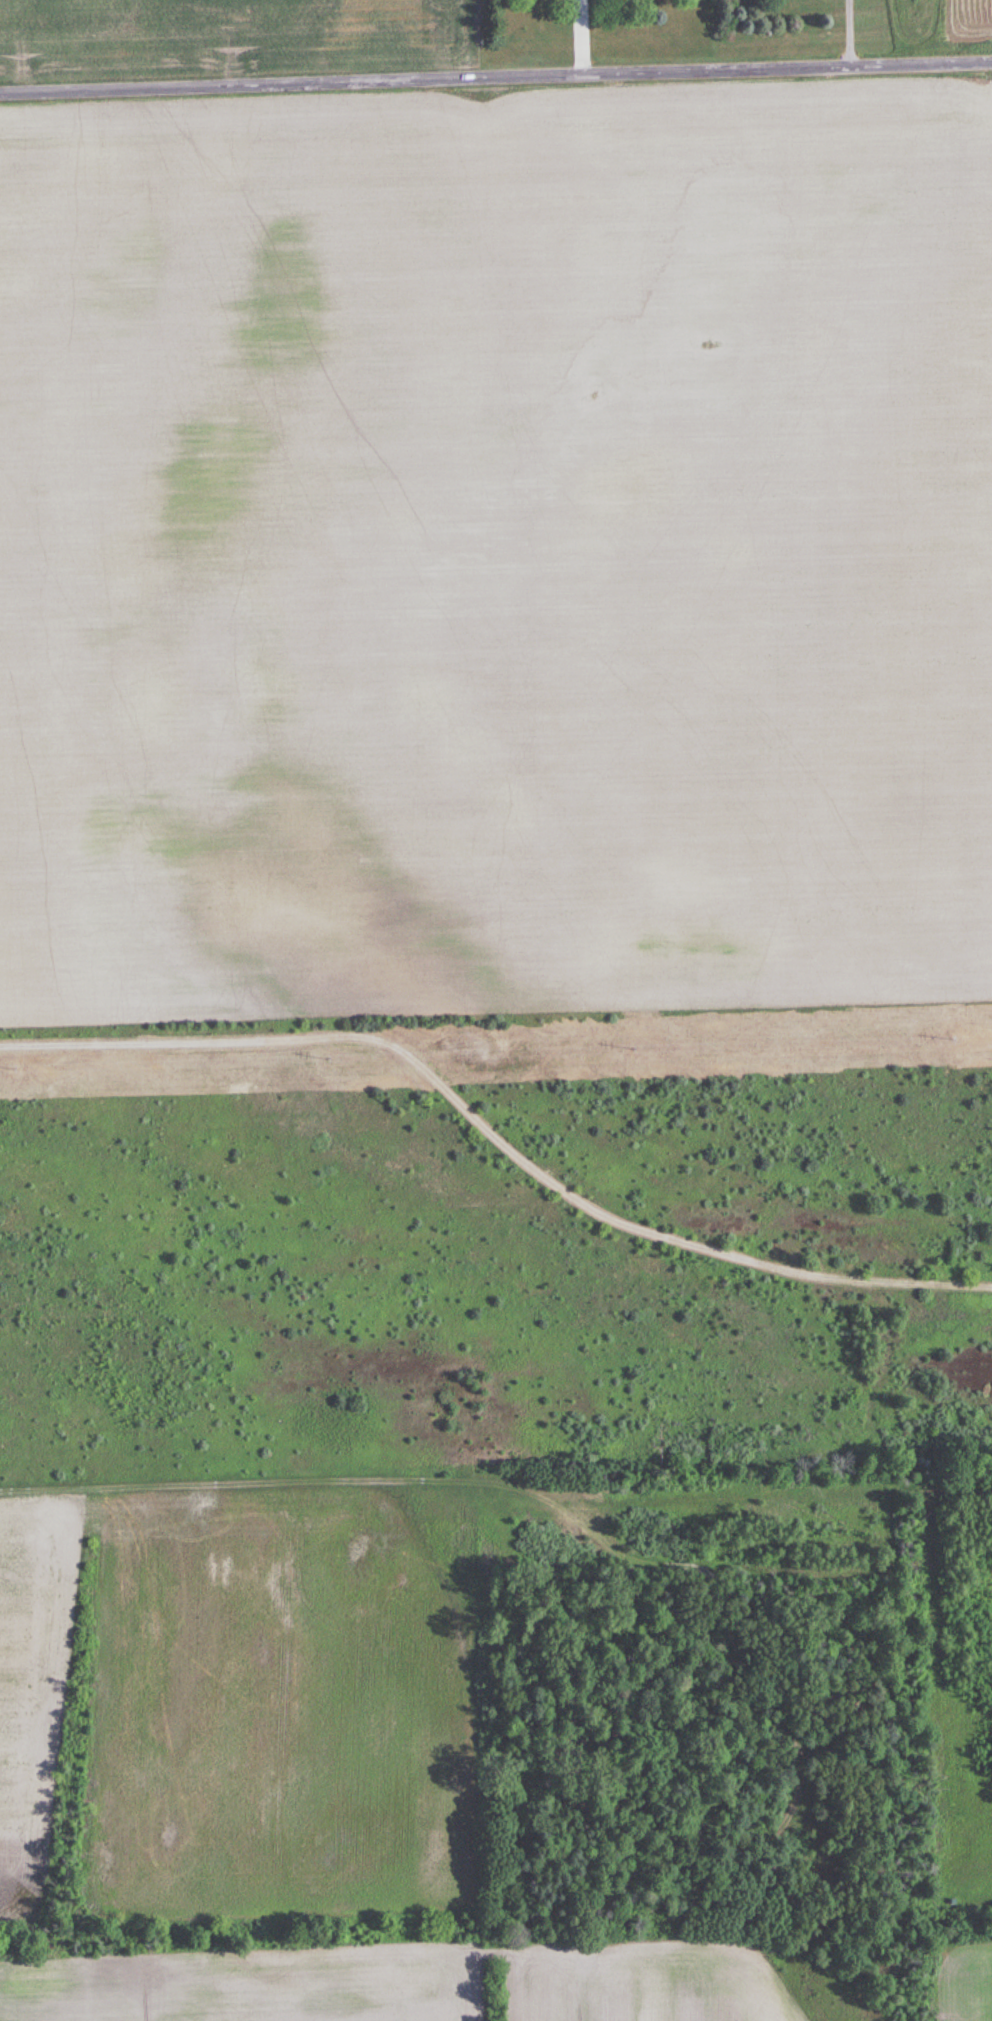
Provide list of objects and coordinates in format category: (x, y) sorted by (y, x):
road: (851, 33)
road: (576, 38)
road: (495, 78)

